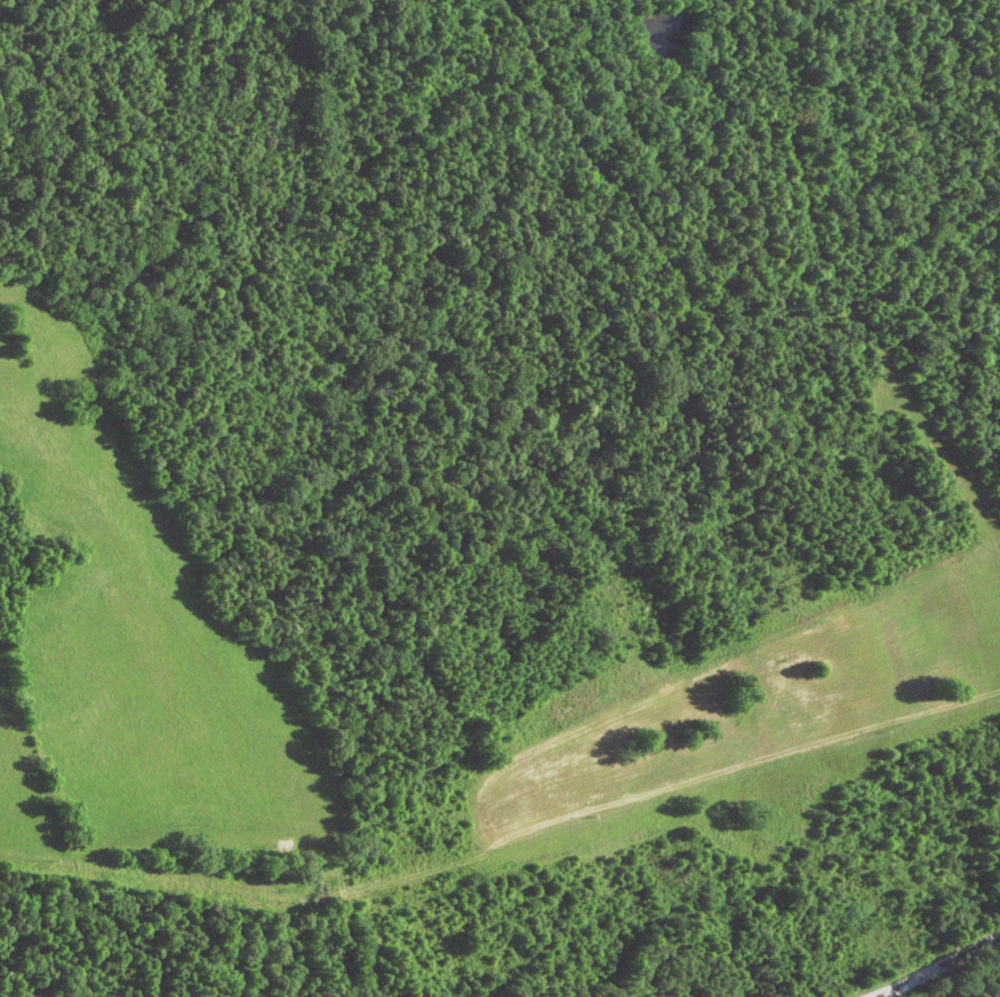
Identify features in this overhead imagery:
road: (704, 984)

